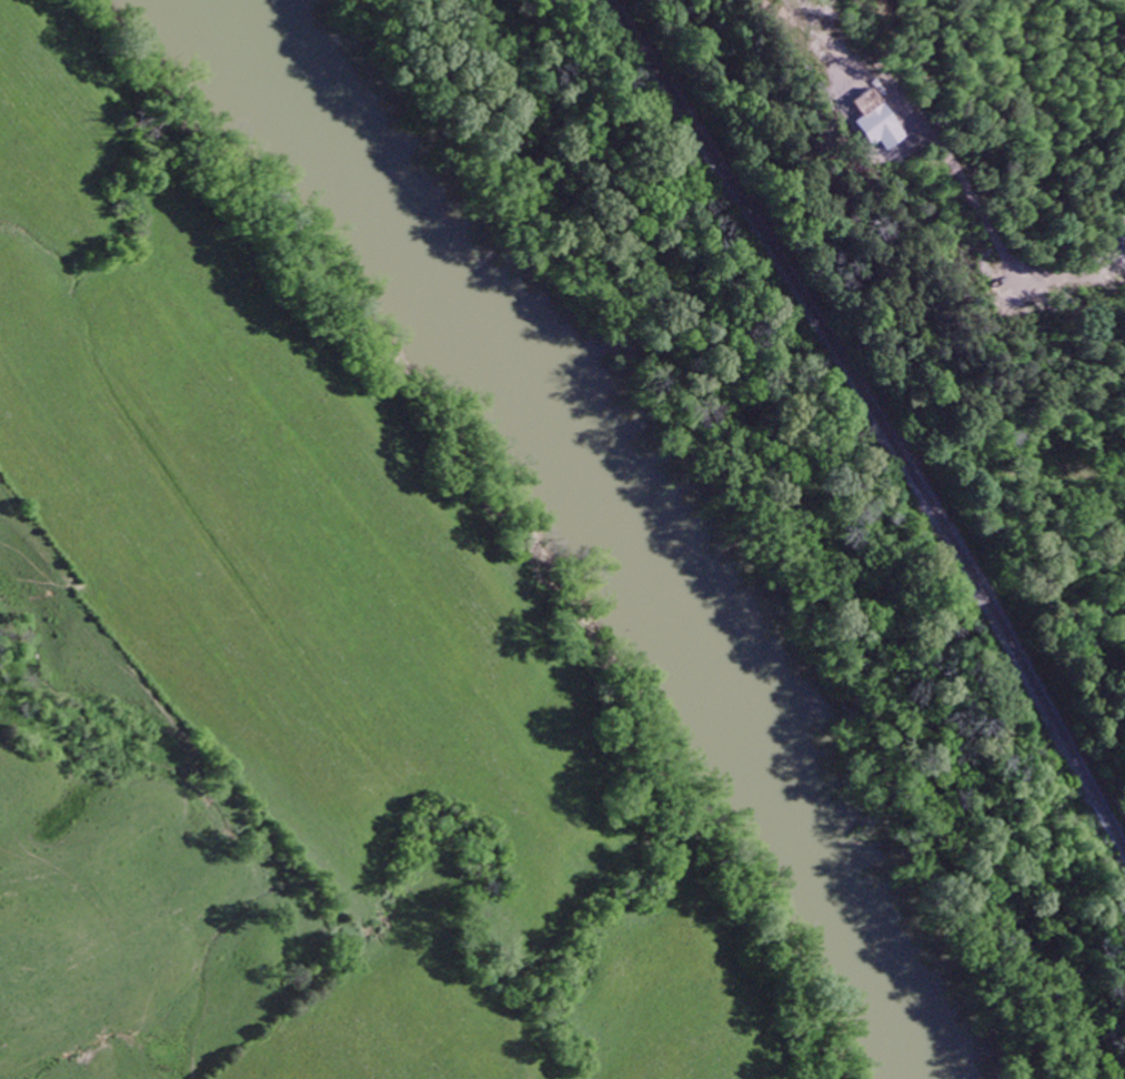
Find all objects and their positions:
road: (1105, 20)
building: (875, 130)
railway: (878, 417)
river: (615, 521)

